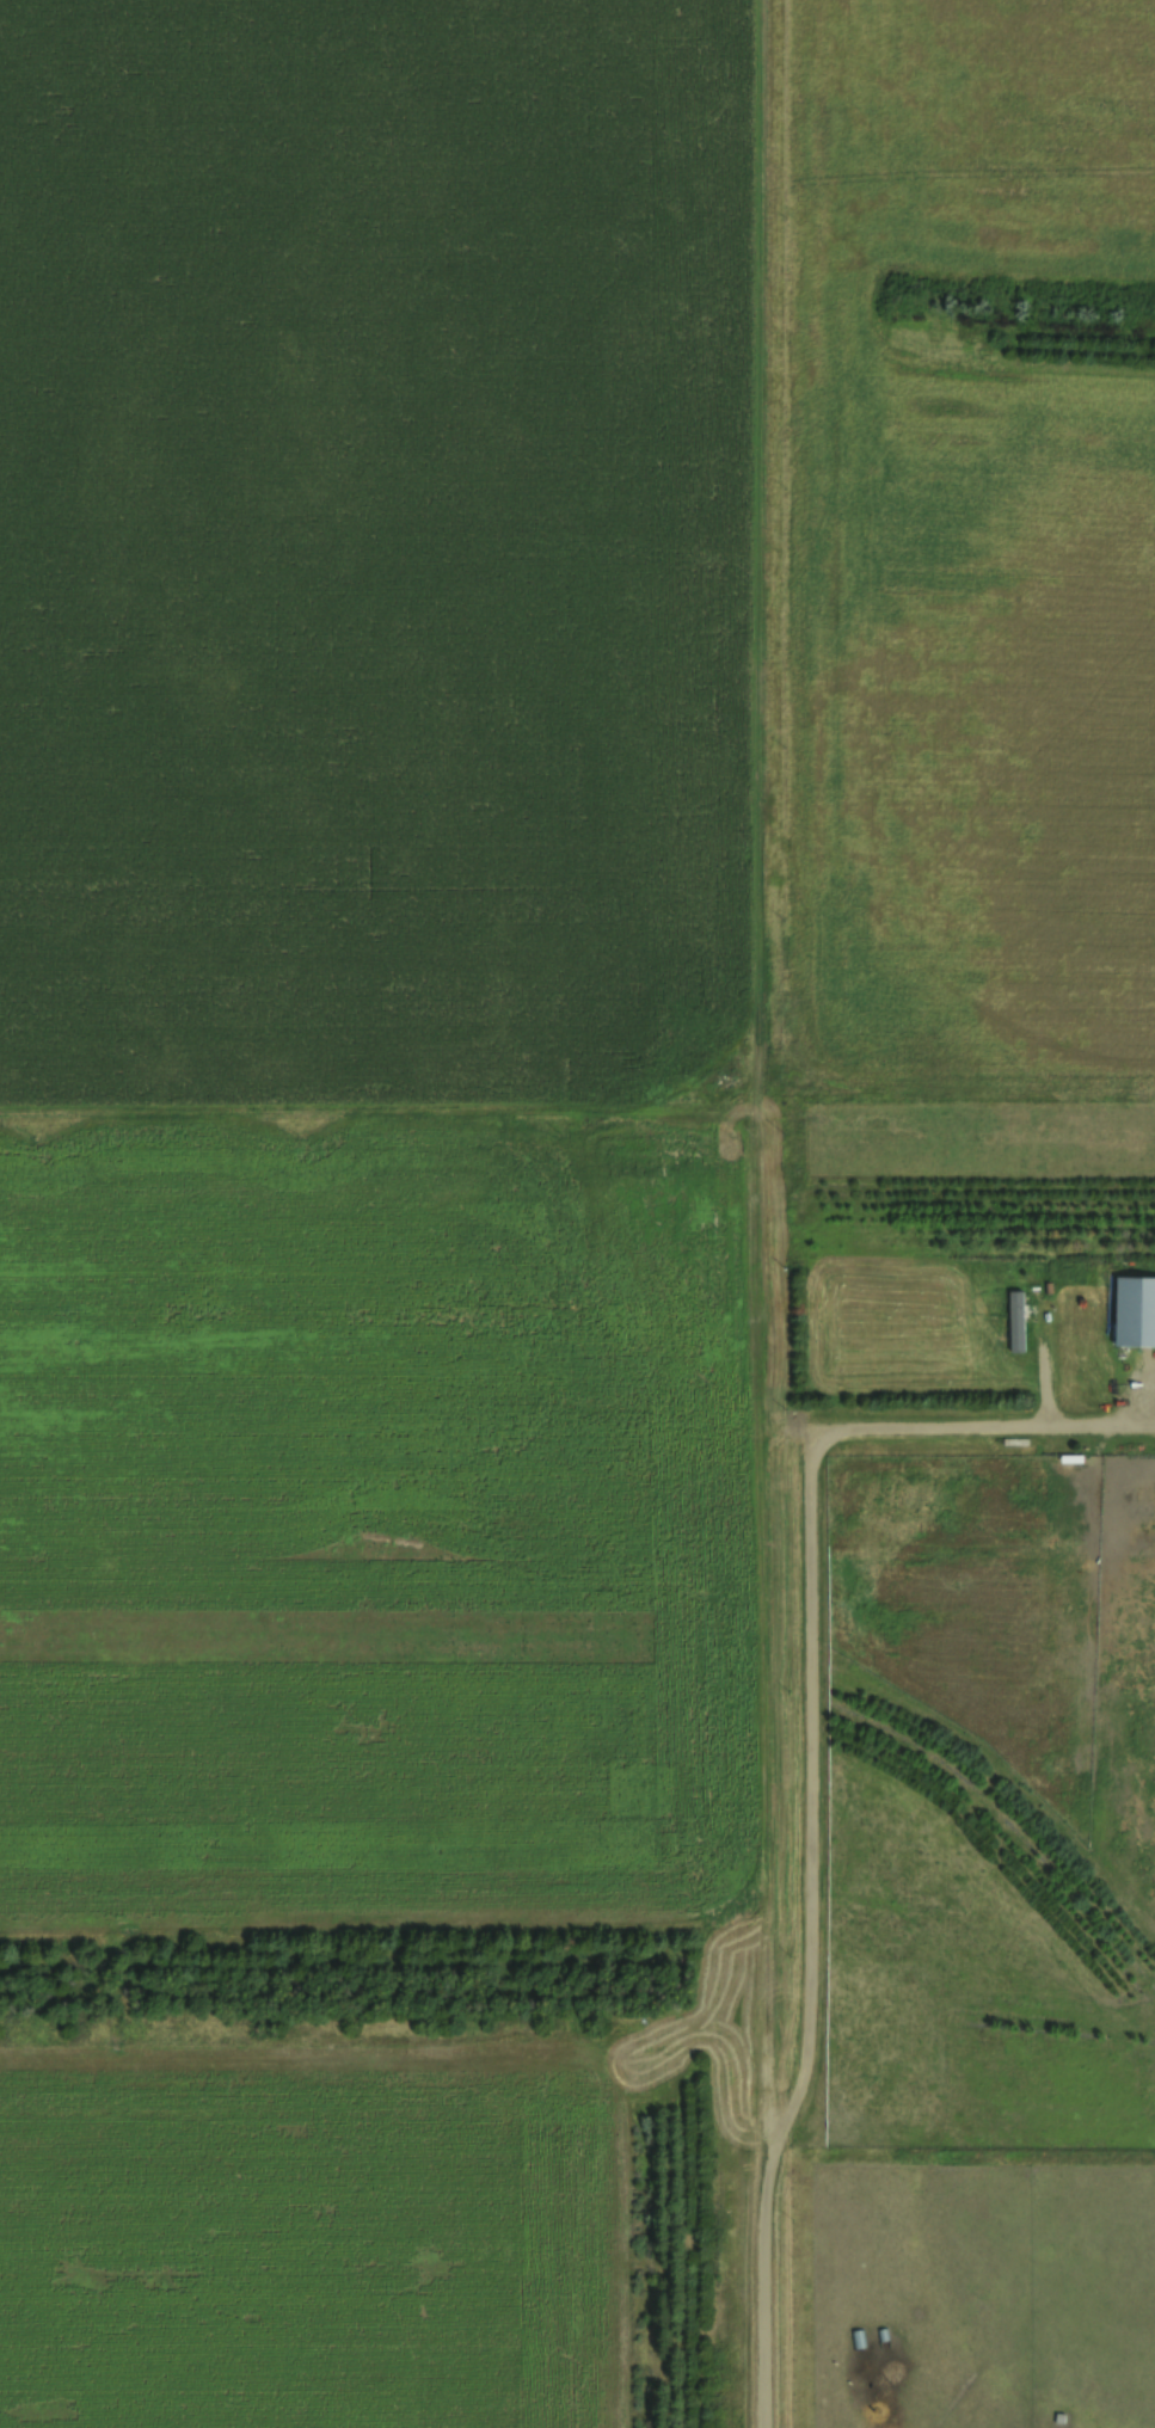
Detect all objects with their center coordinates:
building: (7, 39)
road: (376, 1078)
road: (754, 1213)
building: (1134, 1311)
building: (1014, 1320)

